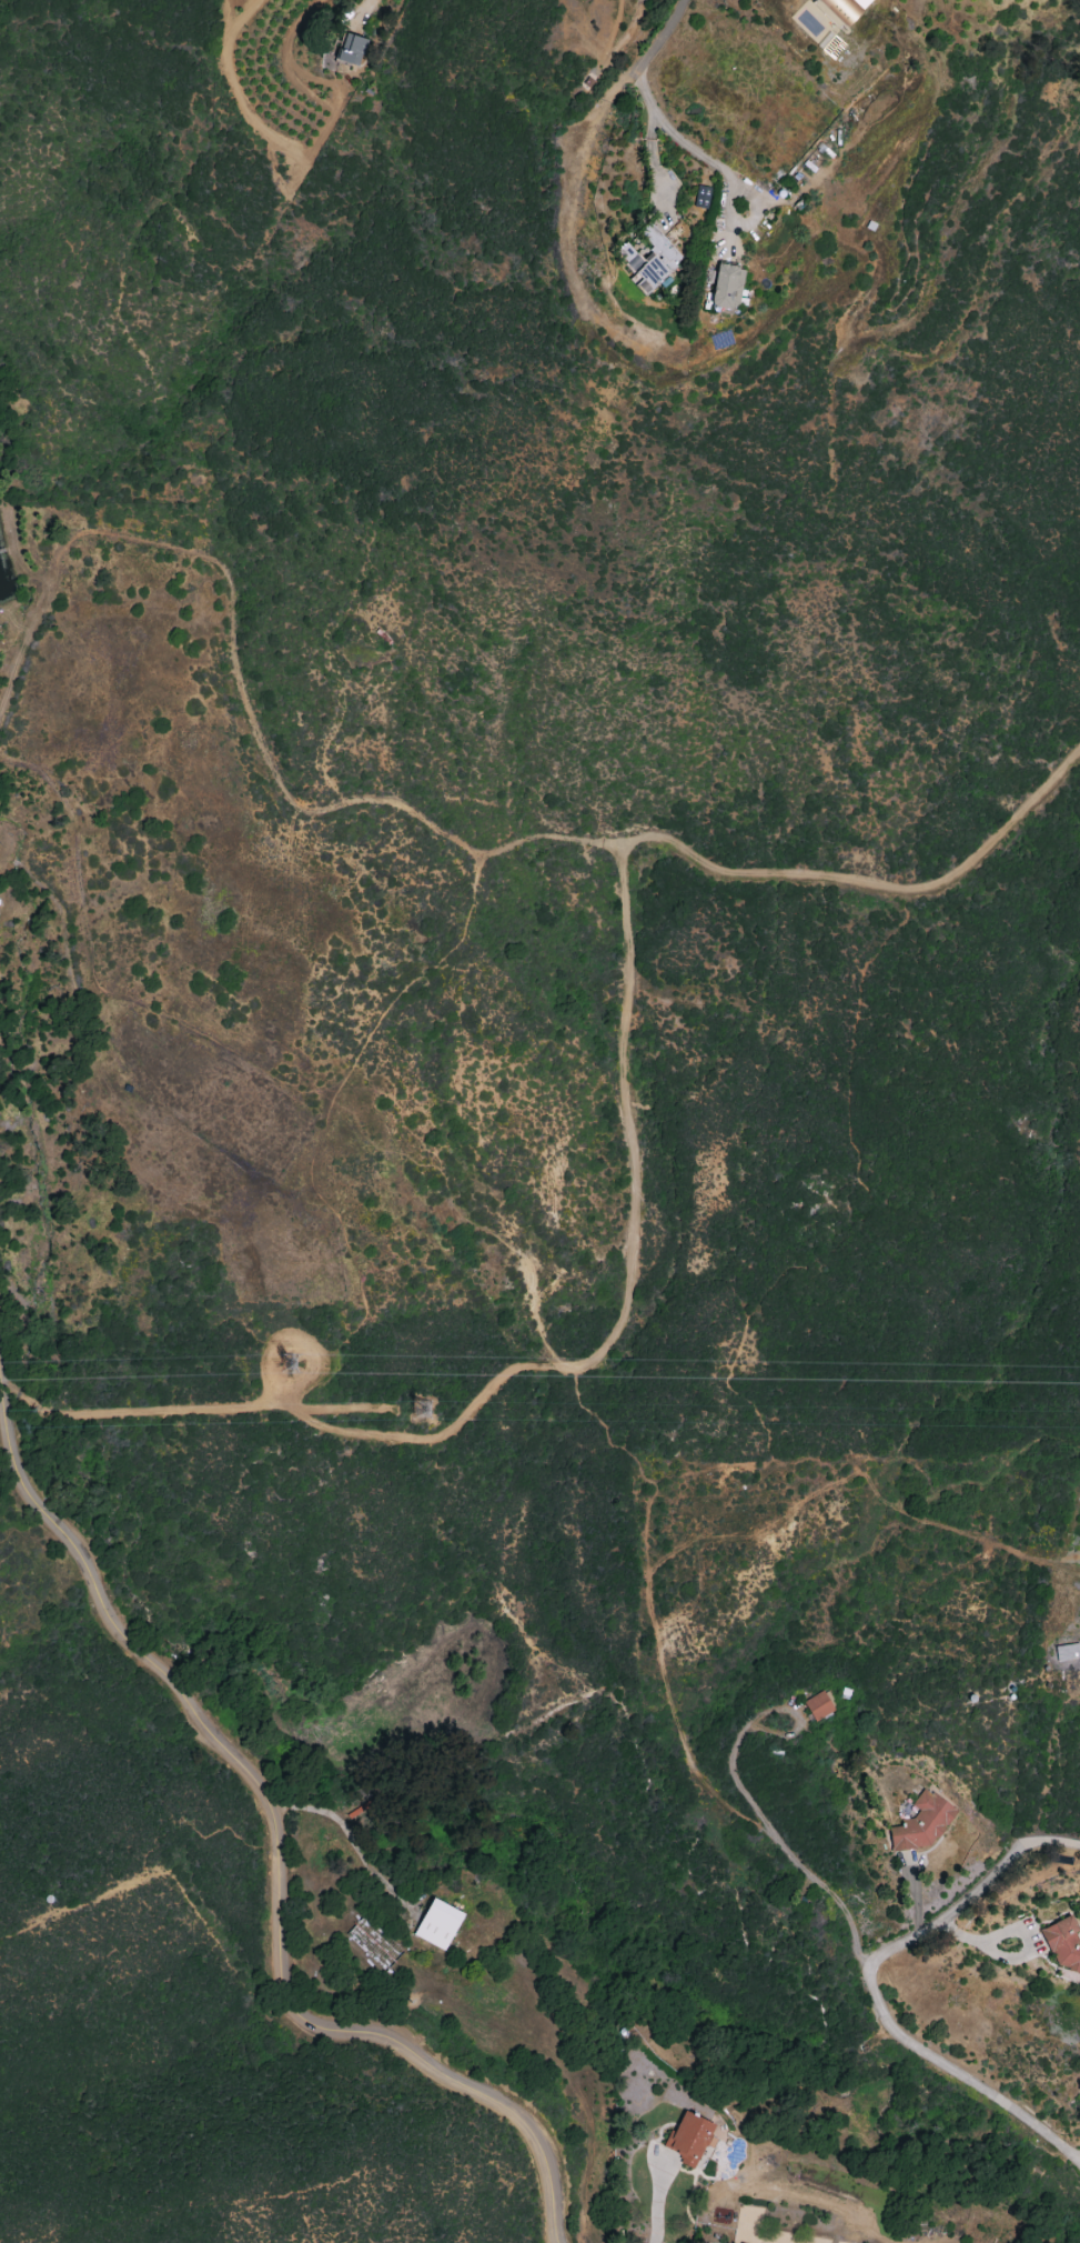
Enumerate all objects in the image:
road: (374, 2)
building: (862, 2)
building: (841, 10)
road: (659, 37)
building: (351, 49)
road: (654, 158)
road: (723, 169)
building: (702, 197)
building: (649, 259)
building: (726, 287)
road: (242, 689)
road: (322, 1136)
road: (633, 1162)
power tower: (297, 1366)
power tower: (430, 1413)
building: (818, 1706)
building: (921, 1823)
road: (768, 1826)
road: (280, 1835)
building: (437, 1924)
road: (1013, 1933)
building: (1063, 1944)
building: (1079, 1983)
road: (870, 1987)
building: (688, 2139)
road: (1079, 2161)
road: (660, 2201)

